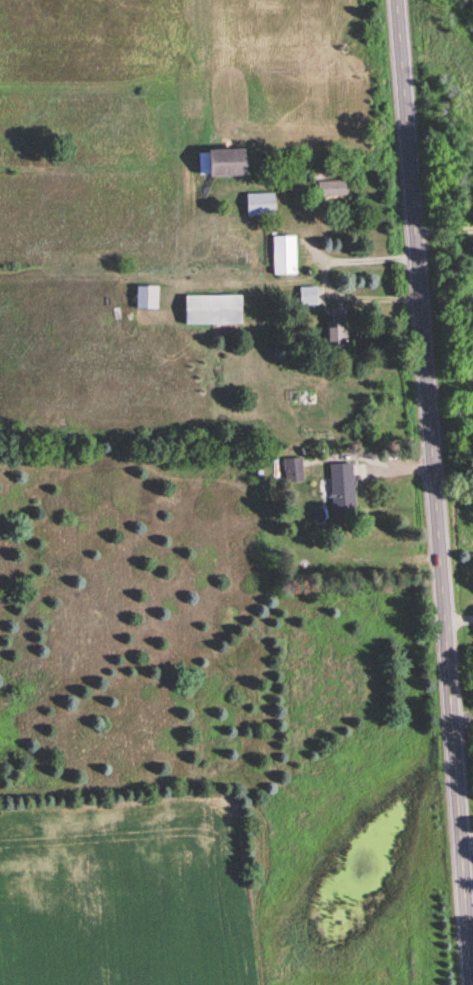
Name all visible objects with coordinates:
building: (224, 160)
building: (329, 185)
building: (258, 200)
road: (444, 227)
building: (283, 252)
road: (322, 275)
building: (306, 293)
building: (145, 295)
building: (211, 307)
building: (334, 323)
building: (291, 467)
building: (340, 484)
road: (434, 492)
road: (458, 618)
road: (462, 717)
road: (466, 837)
crop: (130, 889)

